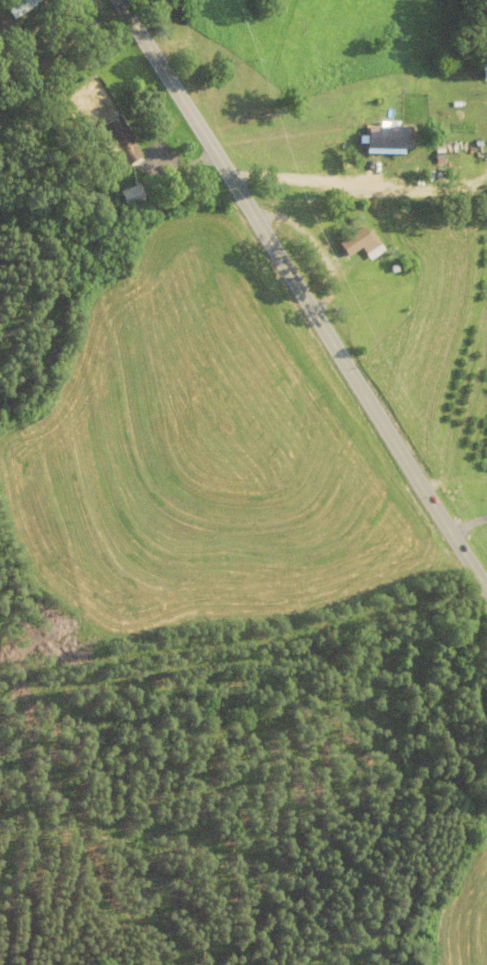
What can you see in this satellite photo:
road: (333, 52)
building: (484, 72)
building: (390, 139)
building: (123, 143)
building: (132, 197)
road: (389, 234)
building: (363, 245)
road: (302, 296)
road: (423, 417)
road: (249, 534)

